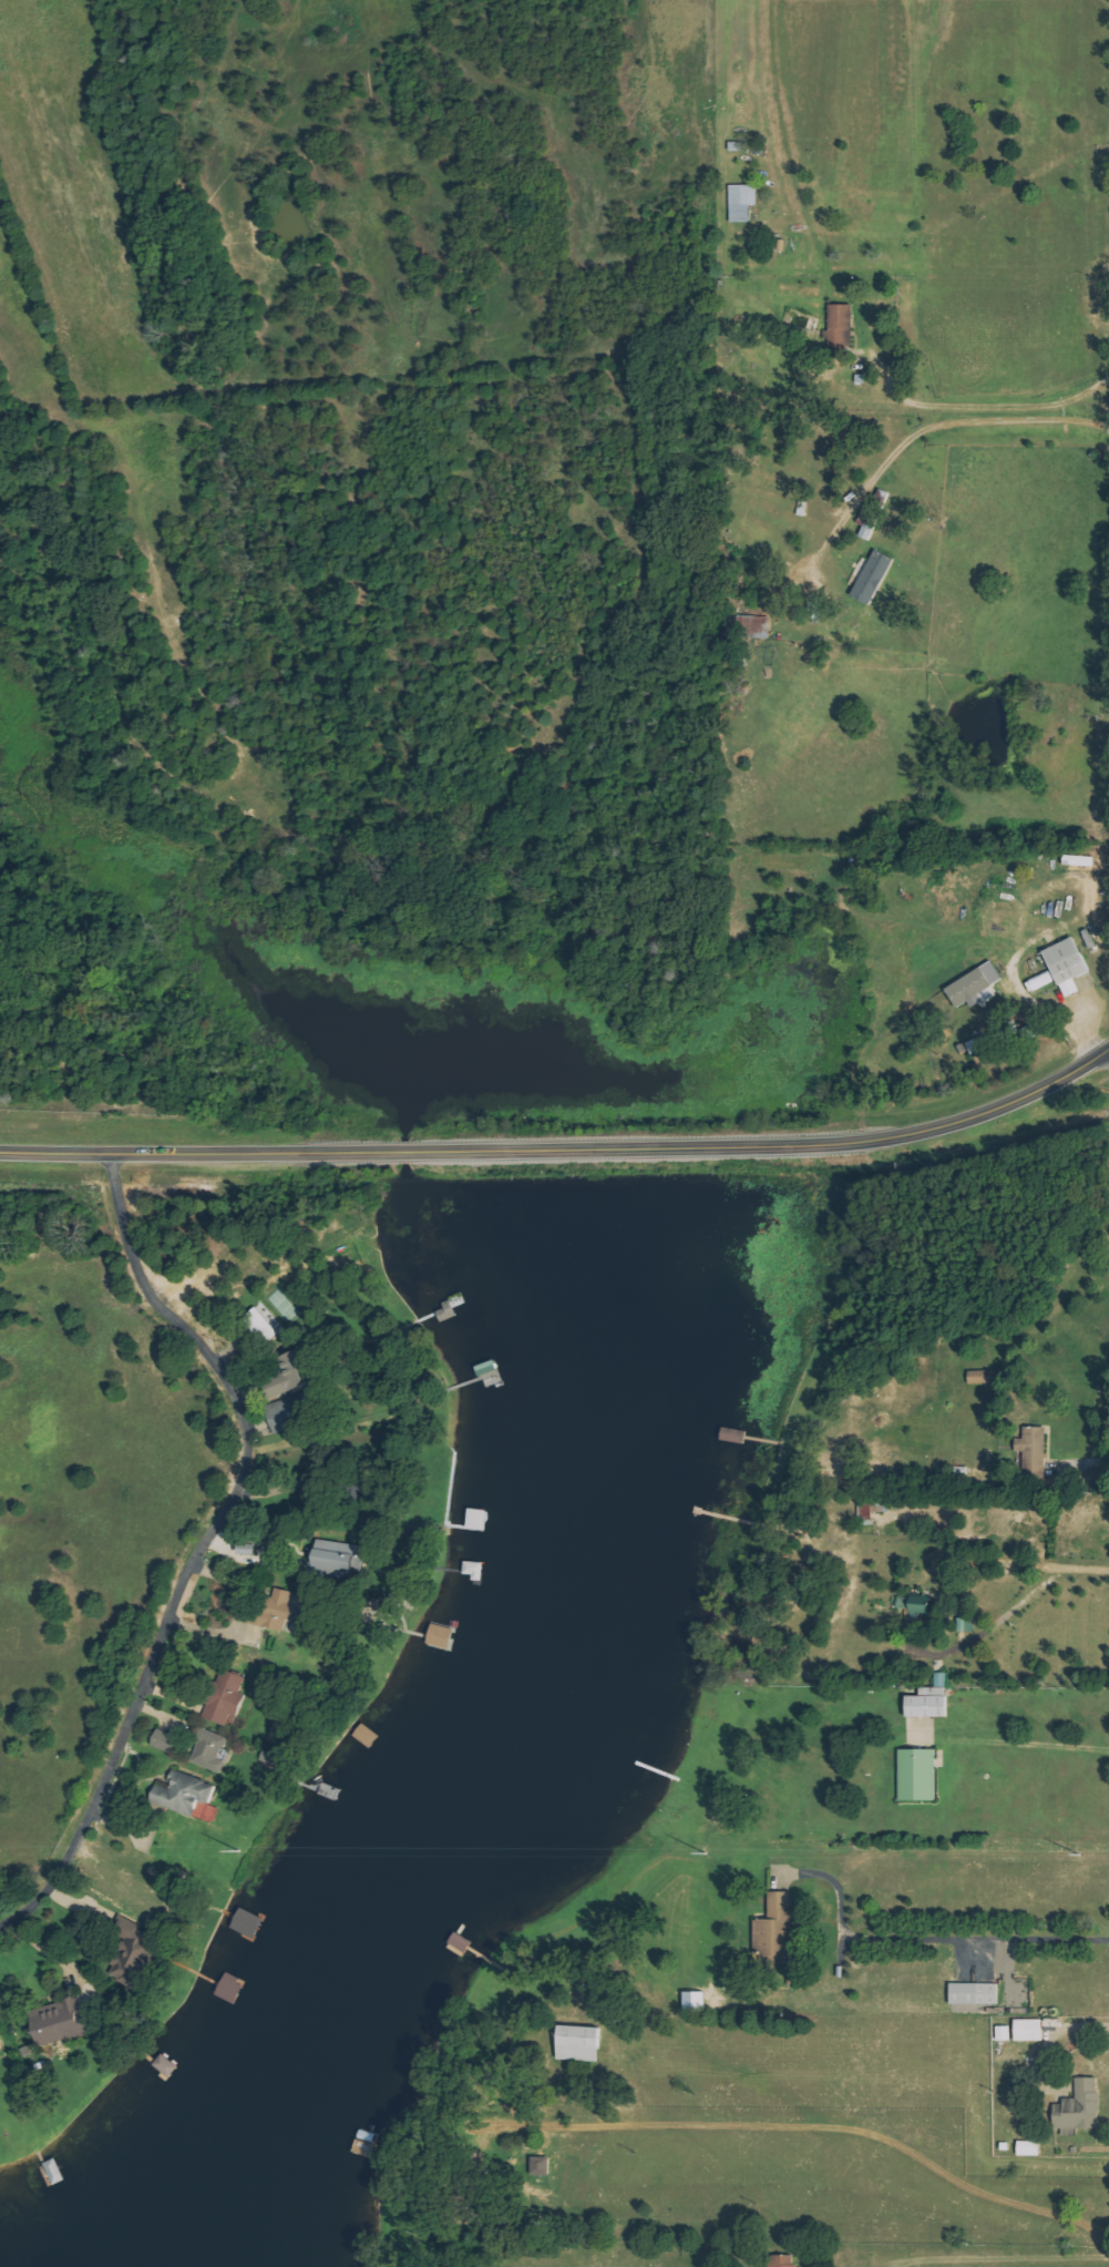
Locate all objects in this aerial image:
building: (743, 202)
building: (840, 330)
building: (874, 513)
building: (875, 575)
building: (756, 626)
building: (1070, 963)
building: (1044, 980)
building: (976, 983)
building: (985, 1041)
road: (563, 1148)
building: (264, 1324)
building: (289, 1376)
building: (285, 1416)
building: (1034, 1444)
building: (869, 1510)
road: (204, 1535)
building: (251, 1549)
building: (340, 1559)
building: (923, 1603)
building: (281, 1610)
building: (967, 1624)
building: (228, 1698)
building: (932, 1699)
building: (167, 1740)
building: (213, 1750)
building: (918, 1775)
building: (185, 1793)
power tower: (237, 1849)
power tower: (704, 1851)
power tower: (1079, 1856)
building: (777, 1927)
building: (976, 1993)
building: (696, 2002)
building: (64, 2022)
building: (1030, 2030)
building: (1005, 2033)
building: (1, 2041)
building: (582, 2043)
building: (166, 2065)
building: (1081, 2107)
building: (1030, 2148)
building: (542, 2166)
building: (782, 2261)

